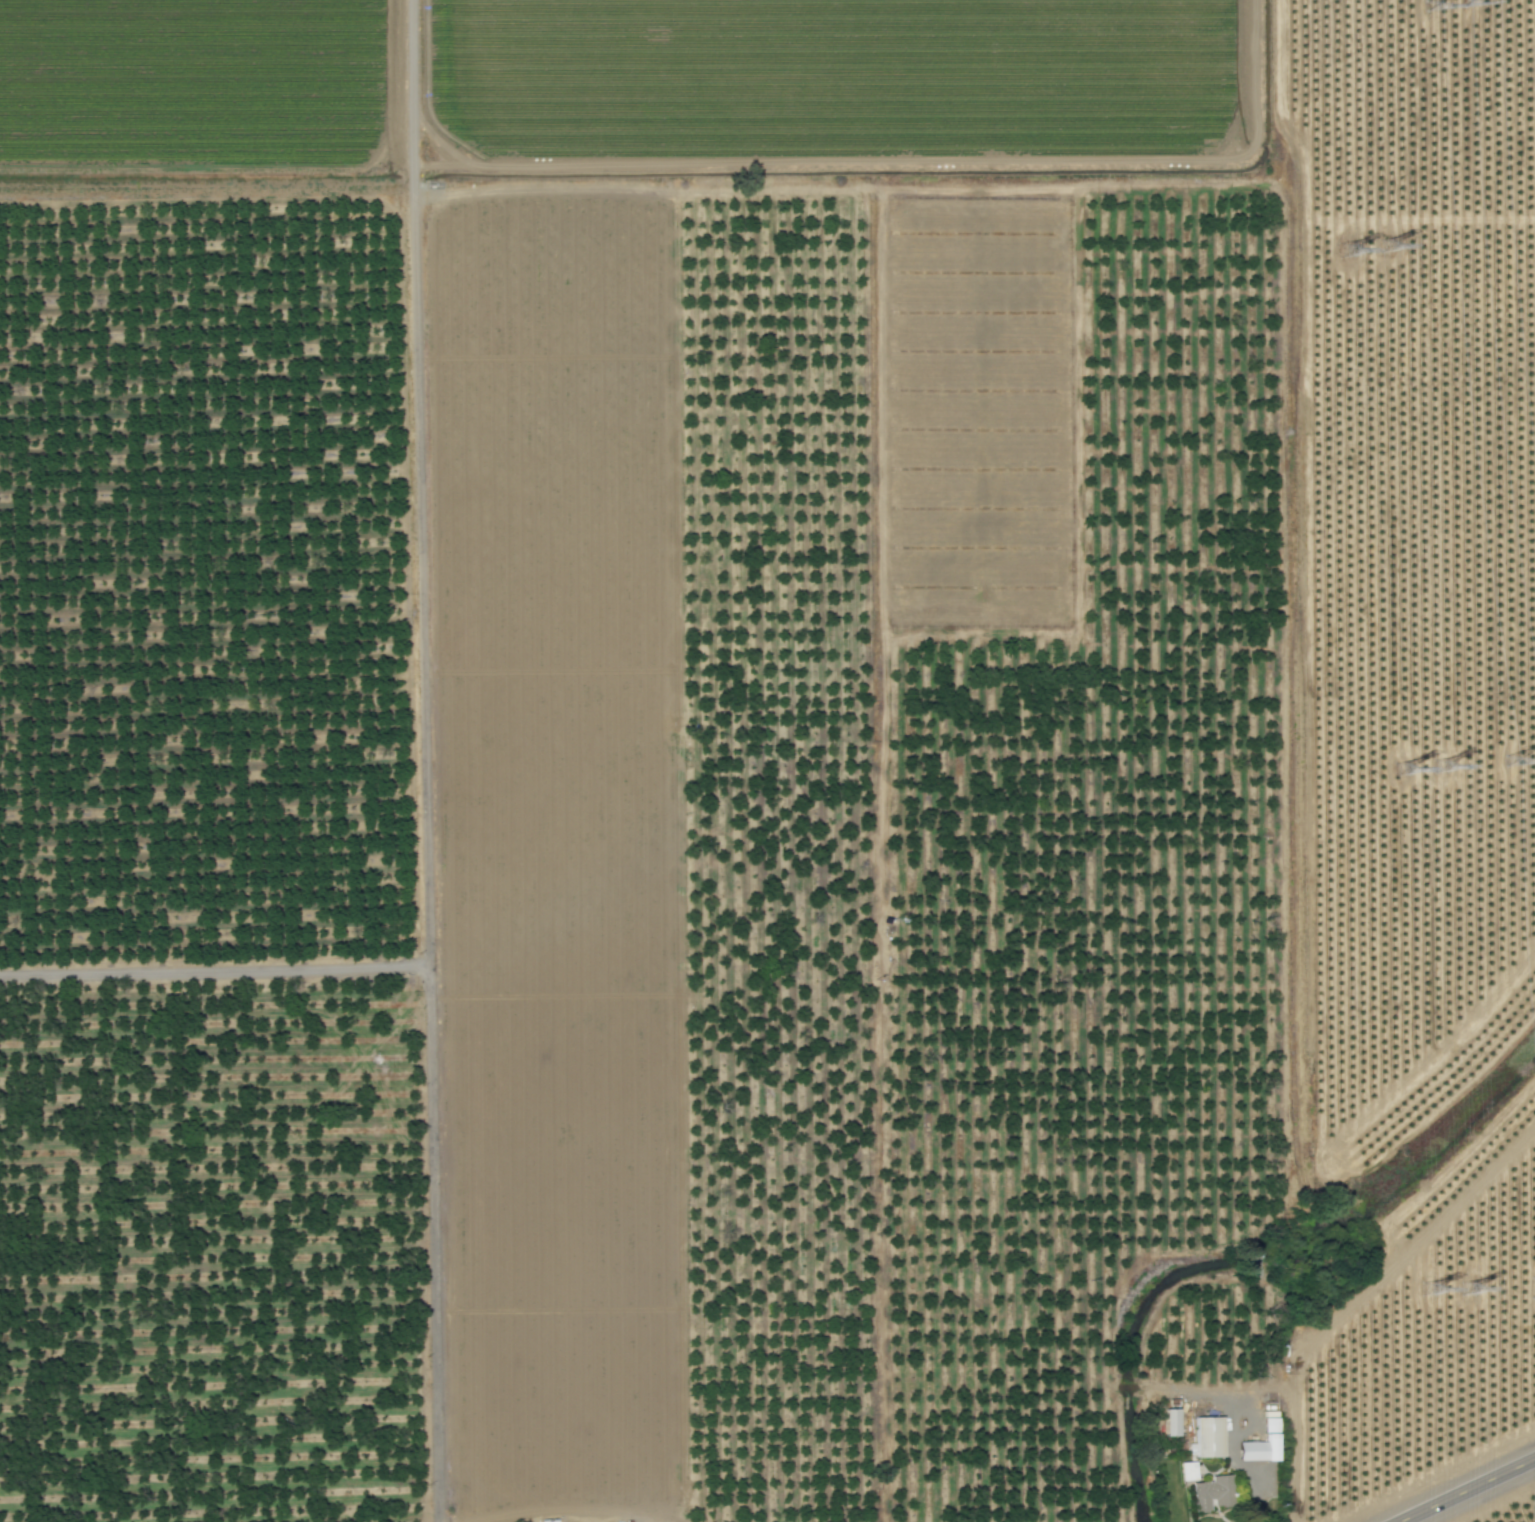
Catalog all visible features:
power tower: (1443, 4)
power tower: (1383, 247)
power tower: (1344, 252)
road: (425, 761)
power tower: (1522, 761)
power tower: (1438, 769)
power tower: (1399, 770)
road: (215, 973)
power tower: (1426, 1290)
power tower: (1464, 1290)
building: (1169, 1423)
building: (1207, 1438)
building: (1259, 1450)
building: (1186, 1471)
road: (1253, 1488)
road: (1462, 1489)
building: (1208, 1490)
road: (618, 1517)
building: (548, 1520)

